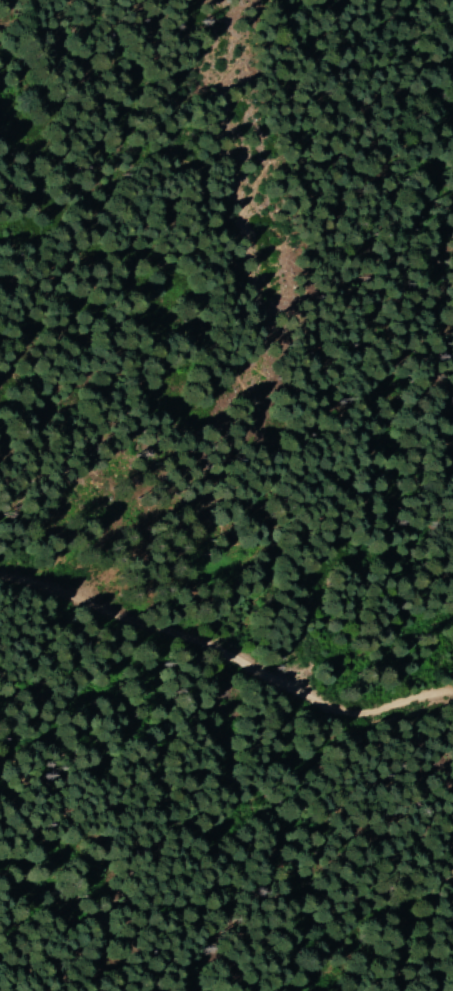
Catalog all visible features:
road: (226, 658)

